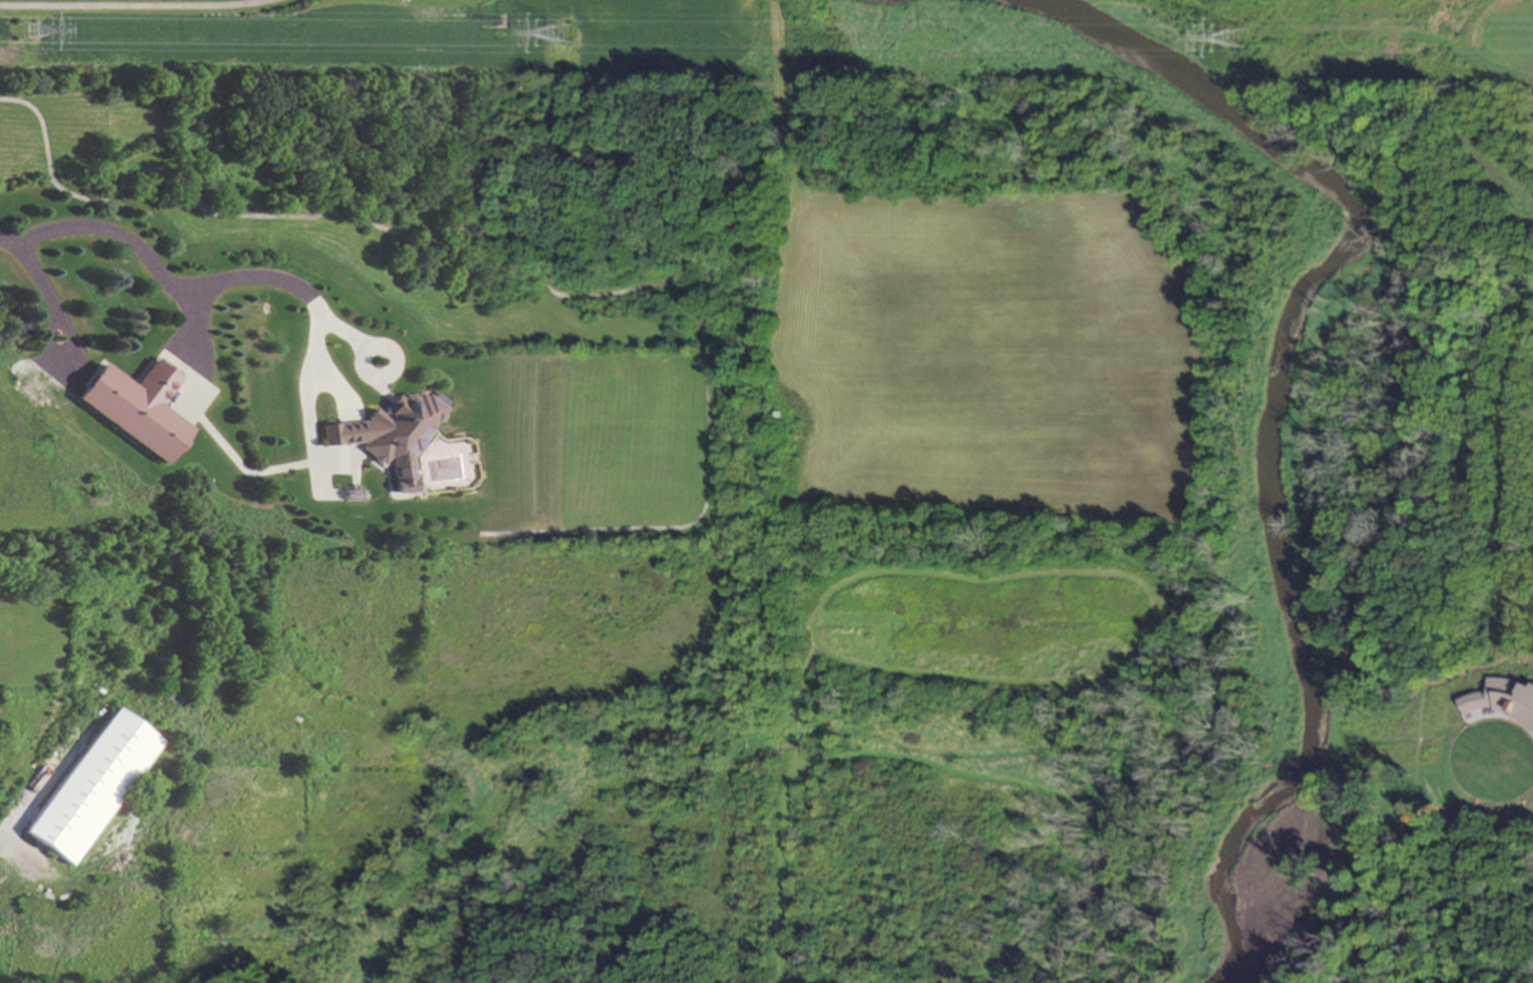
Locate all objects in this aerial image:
road: (137, 7)
power tower: (5, 41)
power tower: (549, 45)
power tower: (1230, 54)
road: (155, 268)
road: (49, 295)
road: (323, 353)
building: (135, 405)
building: (389, 434)
building: (1503, 700)
road: (19, 857)

